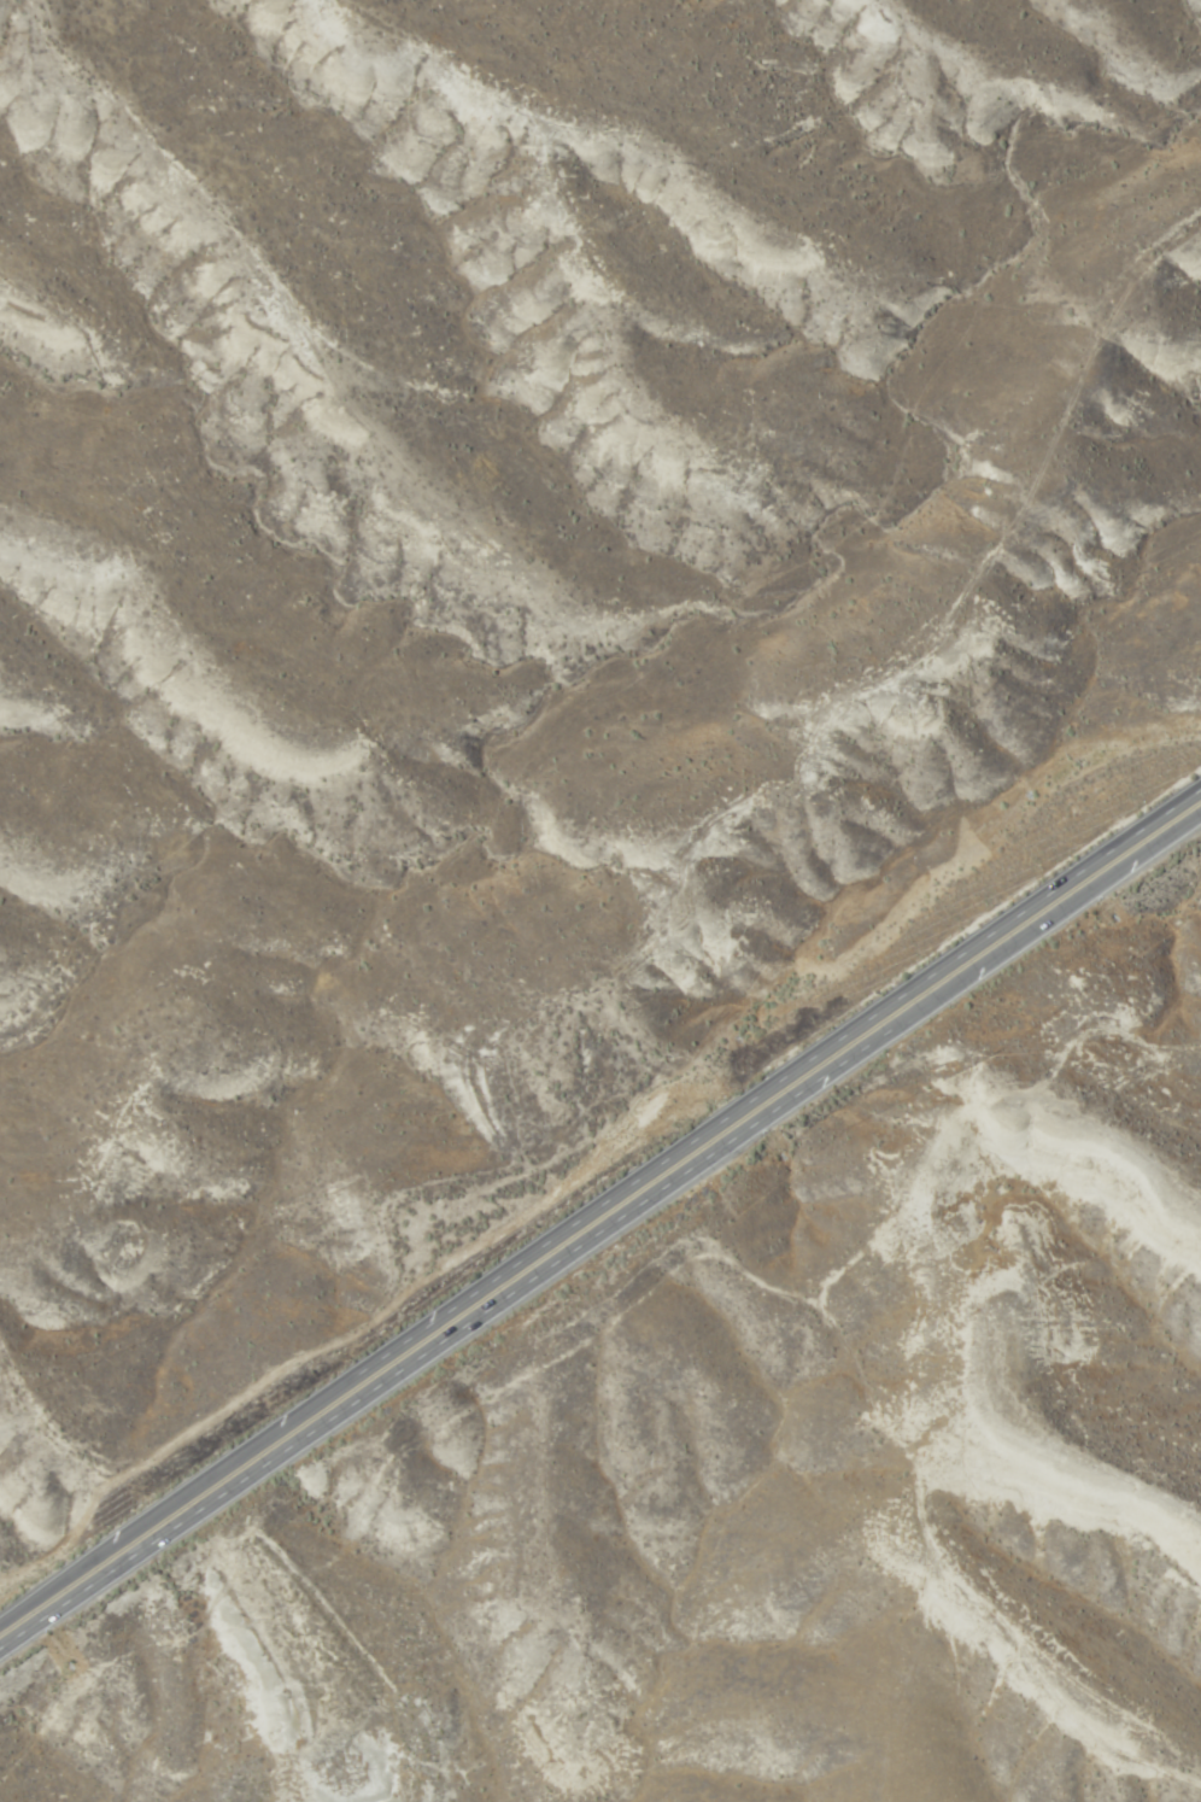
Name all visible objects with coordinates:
road: (600, 1218)
crop: (809, 1526)

